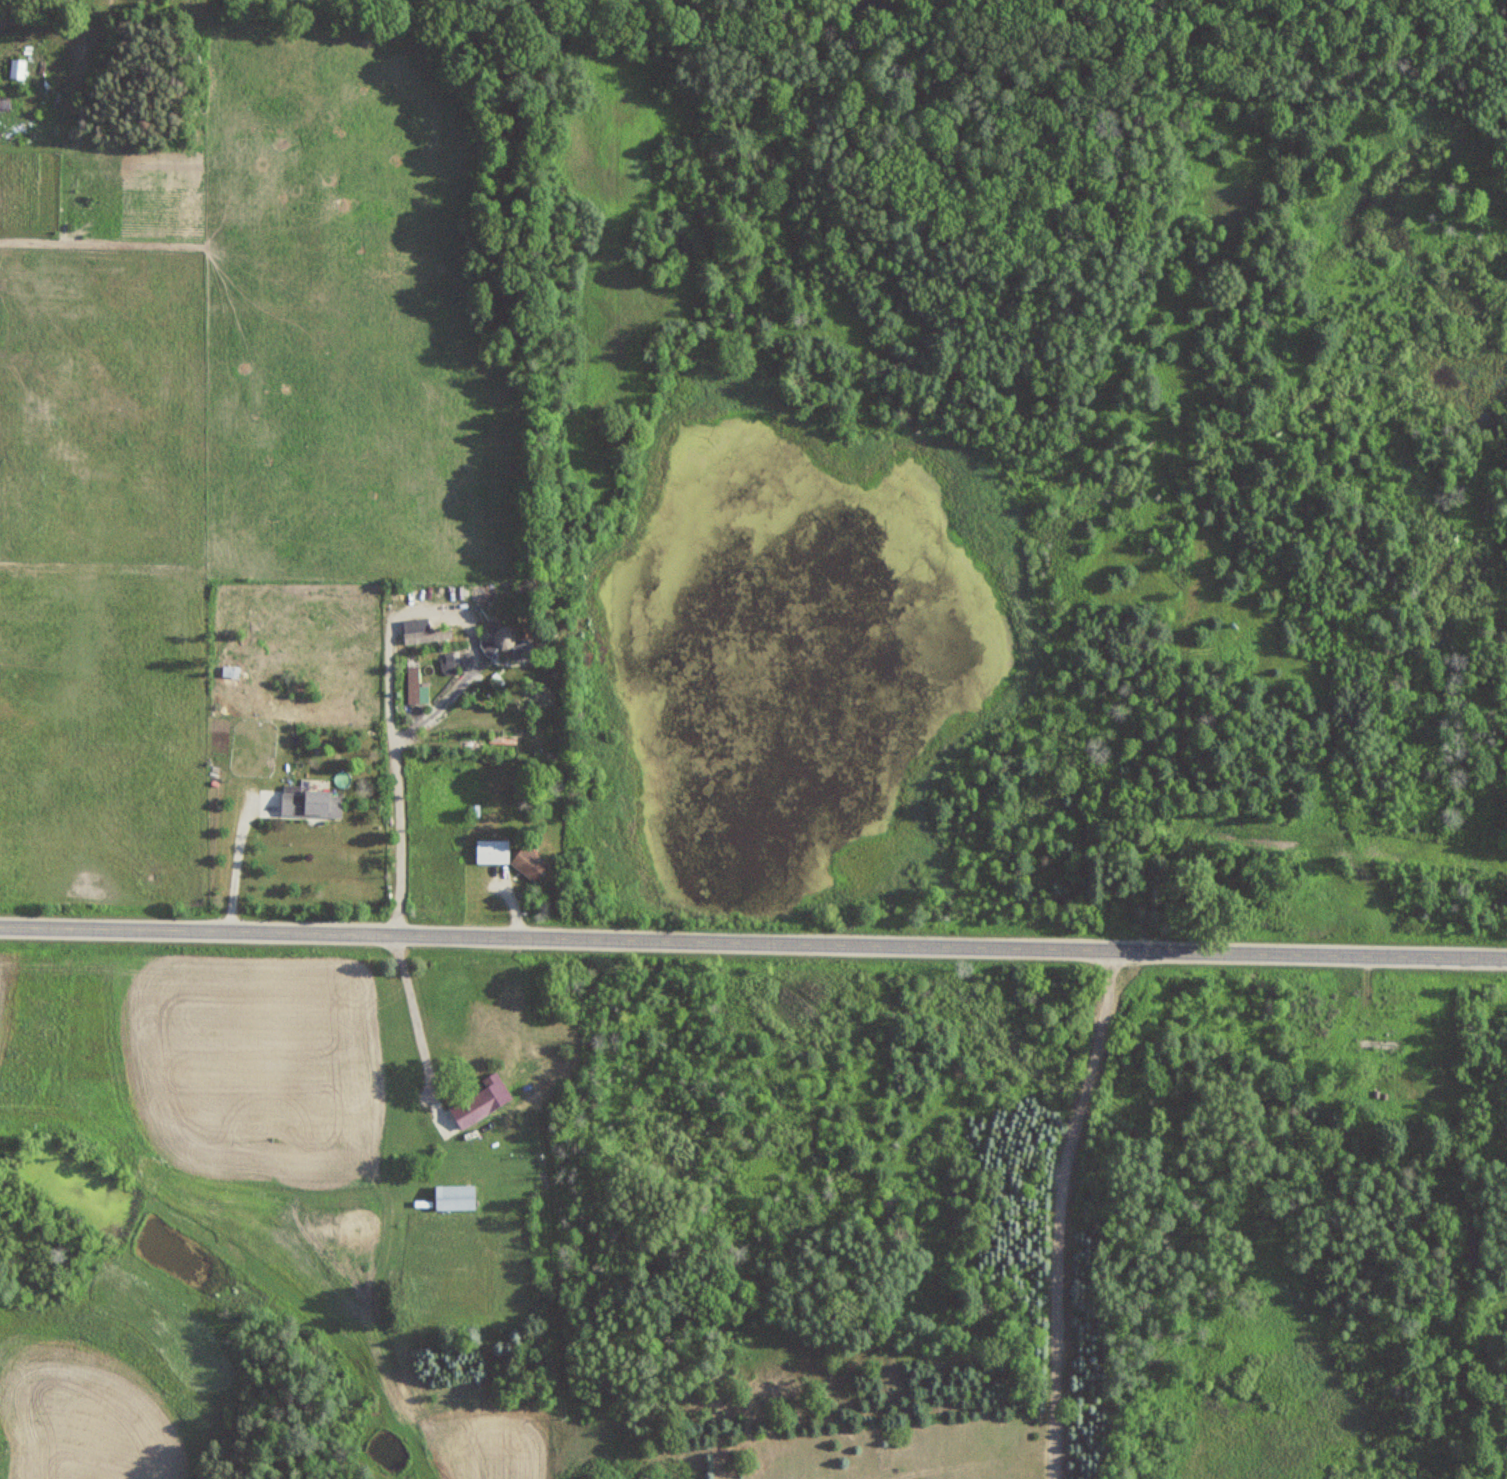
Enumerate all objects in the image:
building: (426, 636)
building: (498, 641)
building: (229, 672)
building: (412, 682)
road: (389, 780)
building: (310, 803)
building: (491, 852)
building: (528, 863)
road: (232, 864)
road: (753, 941)
building: (480, 1102)
building: (454, 1197)
road: (1059, 1214)

